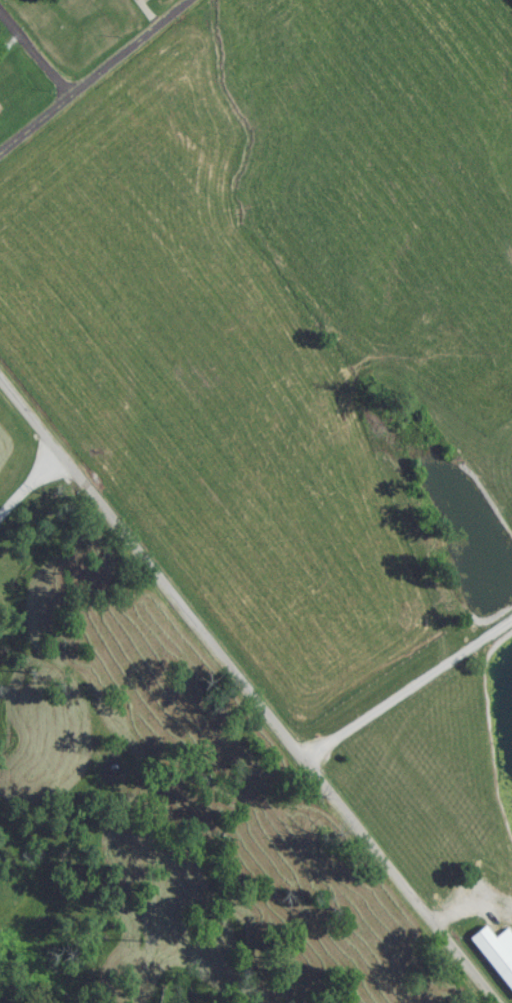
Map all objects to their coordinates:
building: (144, 2)
road: (33, 59)
road: (96, 78)
road: (31, 423)
road: (31, 496)
road: (405, 691)
road: (277, 734)
building: (491, 960)

